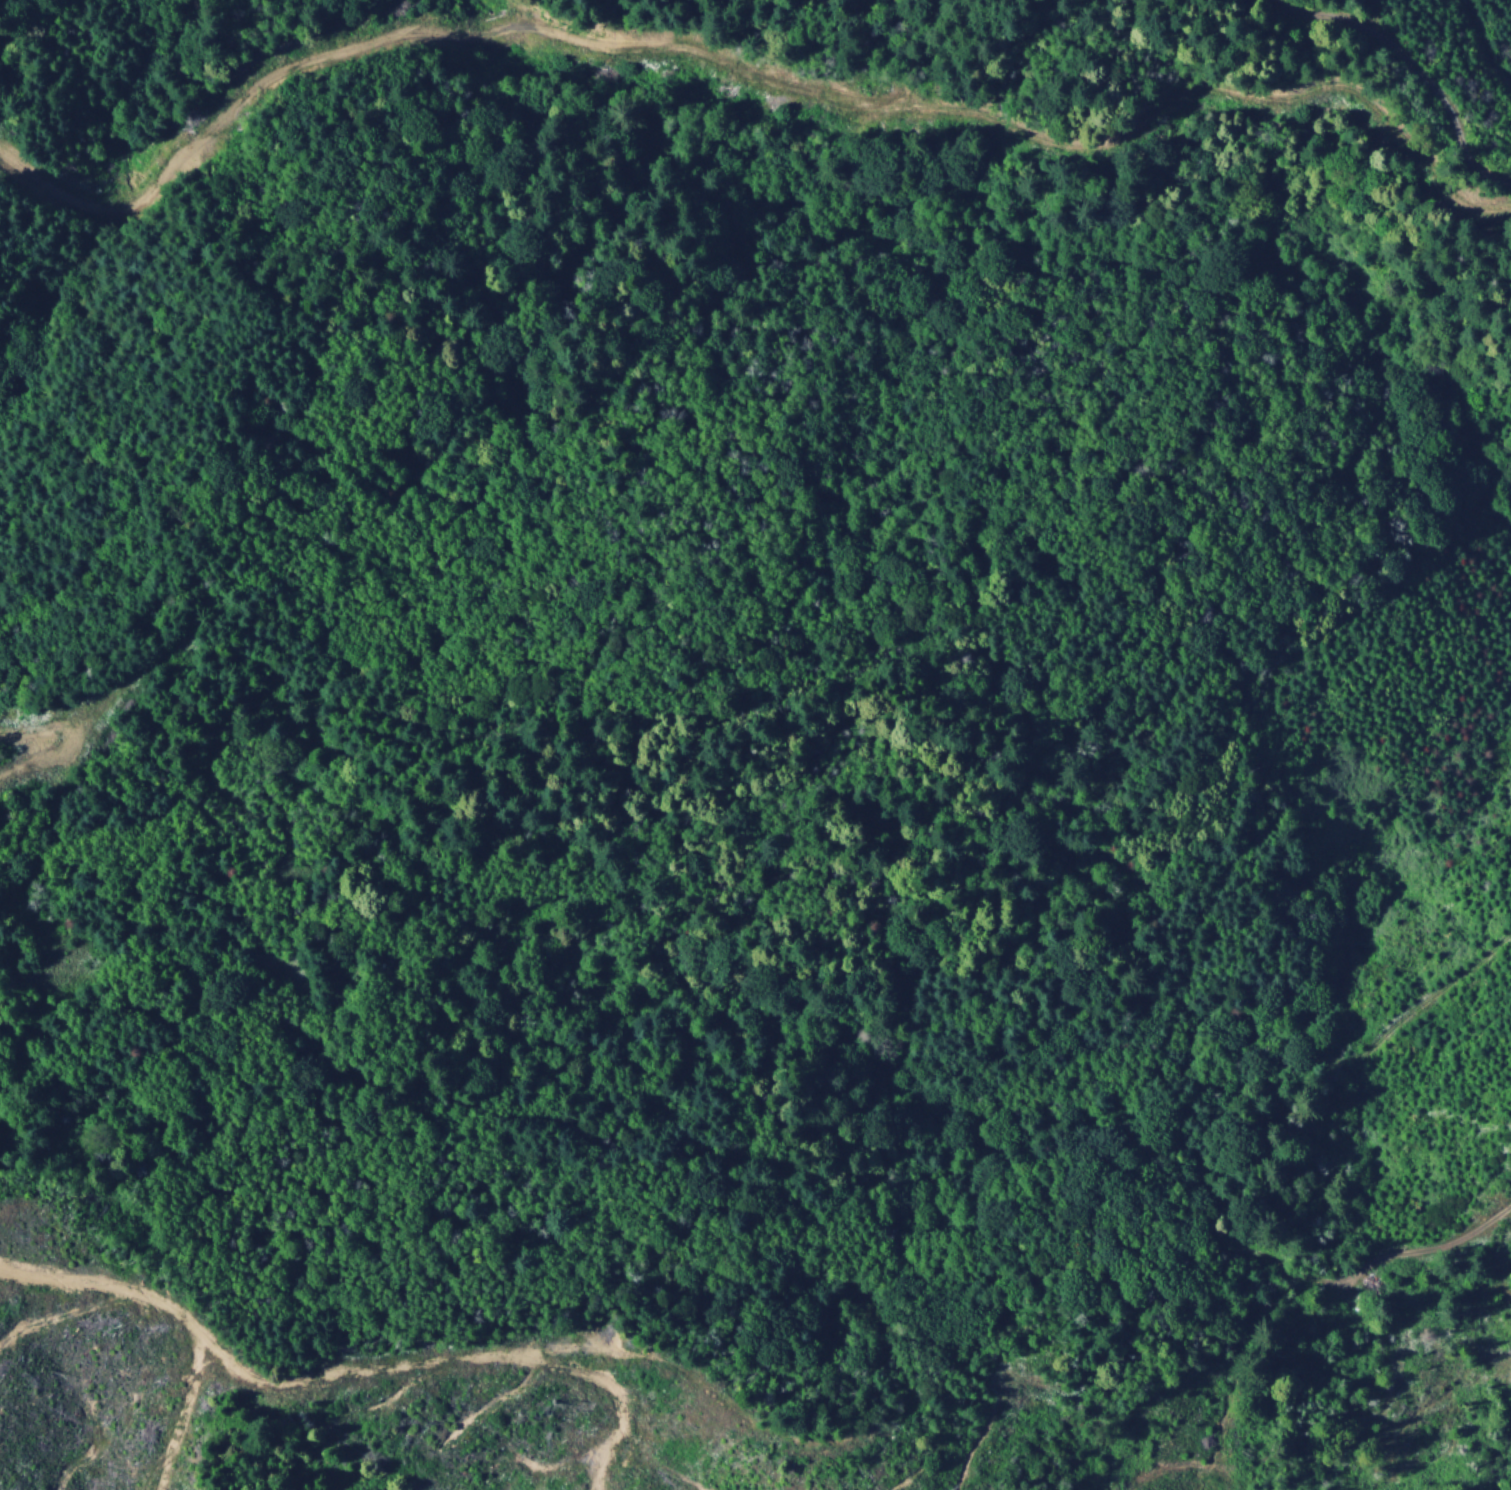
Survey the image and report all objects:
road: (1439, 98)
road: (1416, 1250)

